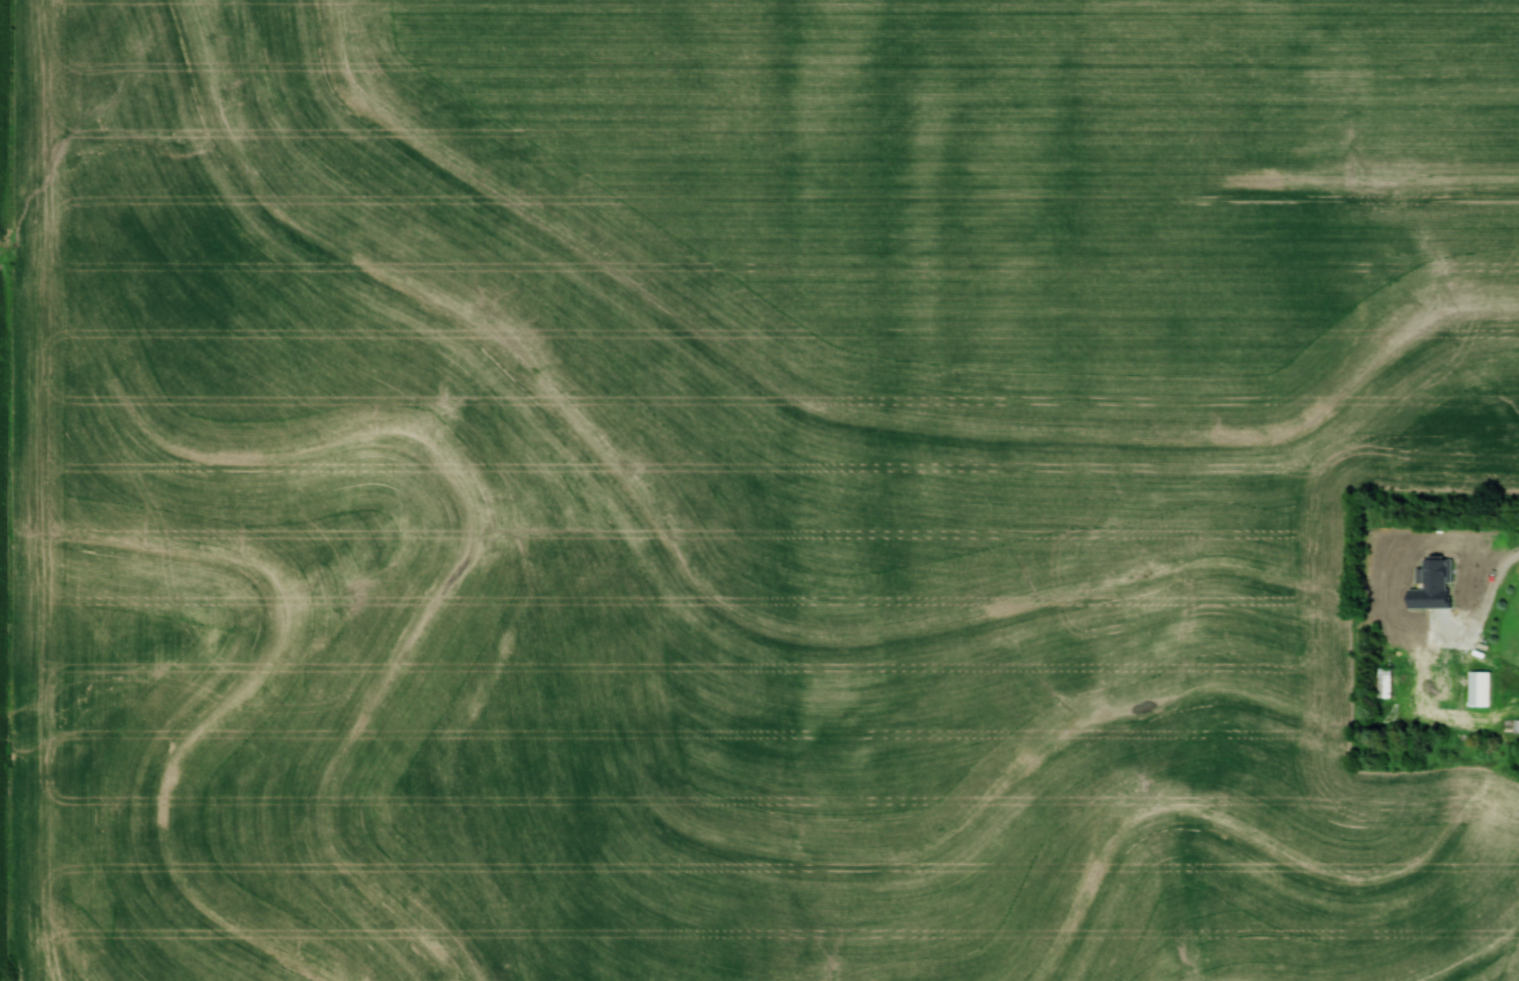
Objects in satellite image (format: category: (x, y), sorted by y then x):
building: (1453, 578)
road: (1490, 609)
building: (1389, 681)
building: (1444, 686)
building: (1484, 688)
building: (1517, 725)

